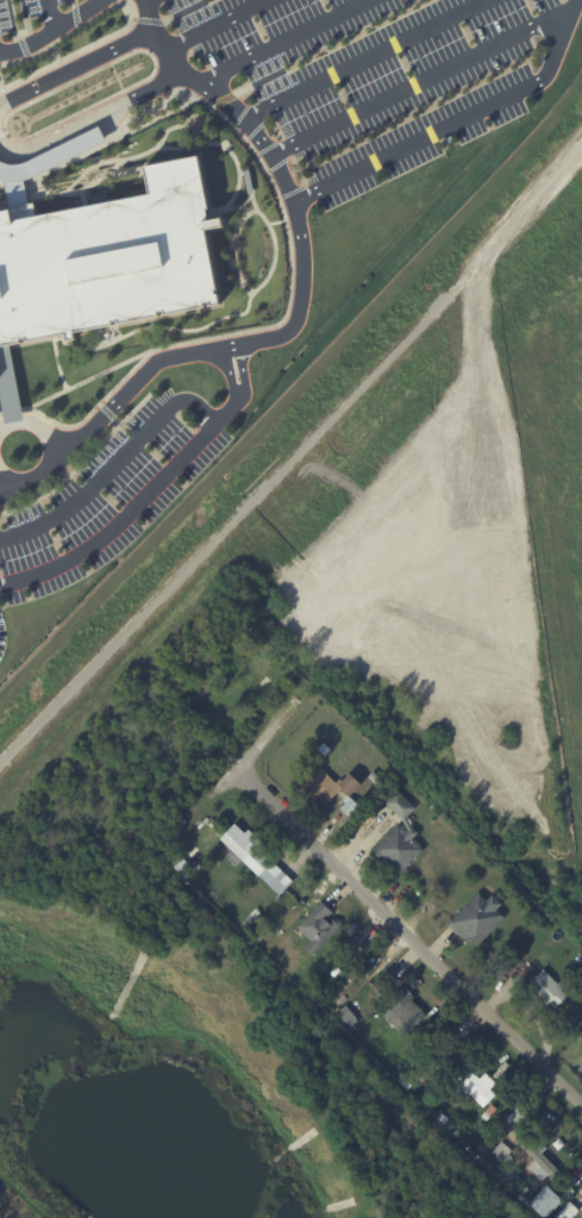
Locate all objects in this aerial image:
road: (100, 1)
road: (50, 14)
parking lot: (39, 21)
road: (218, 25)
road: (52, 29)
road: (289, 42)
road: (364, 58)
road: (77, 67)
parking lot: (383, 74)
road: (418, 83)
road: (90, 114)
road: (457, 121)
building: (44, 163)
building: (105, 258)
road: (299, 307)
road: (245, 370)
road: (227, 371)
road: (35, 421)
road: (293, 457)
road: (113, 464)
road: (4, 481)
parking lot: (109, 495)
road: (130, 508)
parking lot: (2, 629)
building: (263, 668)
building: (324, 748)
road: (239, 763)
building: (374, 775)
building: (330, 783)
building: (348, 805)
building: (399, 837)
building: (245, 849)
building: (195, 864)
building: (476, 917)
building: (250, 920)
building: (318, 926)
road: (408, 938)
building: (581, 958)
building: (384, 981)
building: (551, 987)
building: (402, 1008)
building: (345, 1013)
building: (443, 1054)
building: (471, 1085)
building: (514, 1114)
building: (501, 1150)
building: (538, 1158)
building: (480, 1160)
building: (545, 1201)
building: (581, 1204)
building: (581, 1206)
building: (567, 1211)

